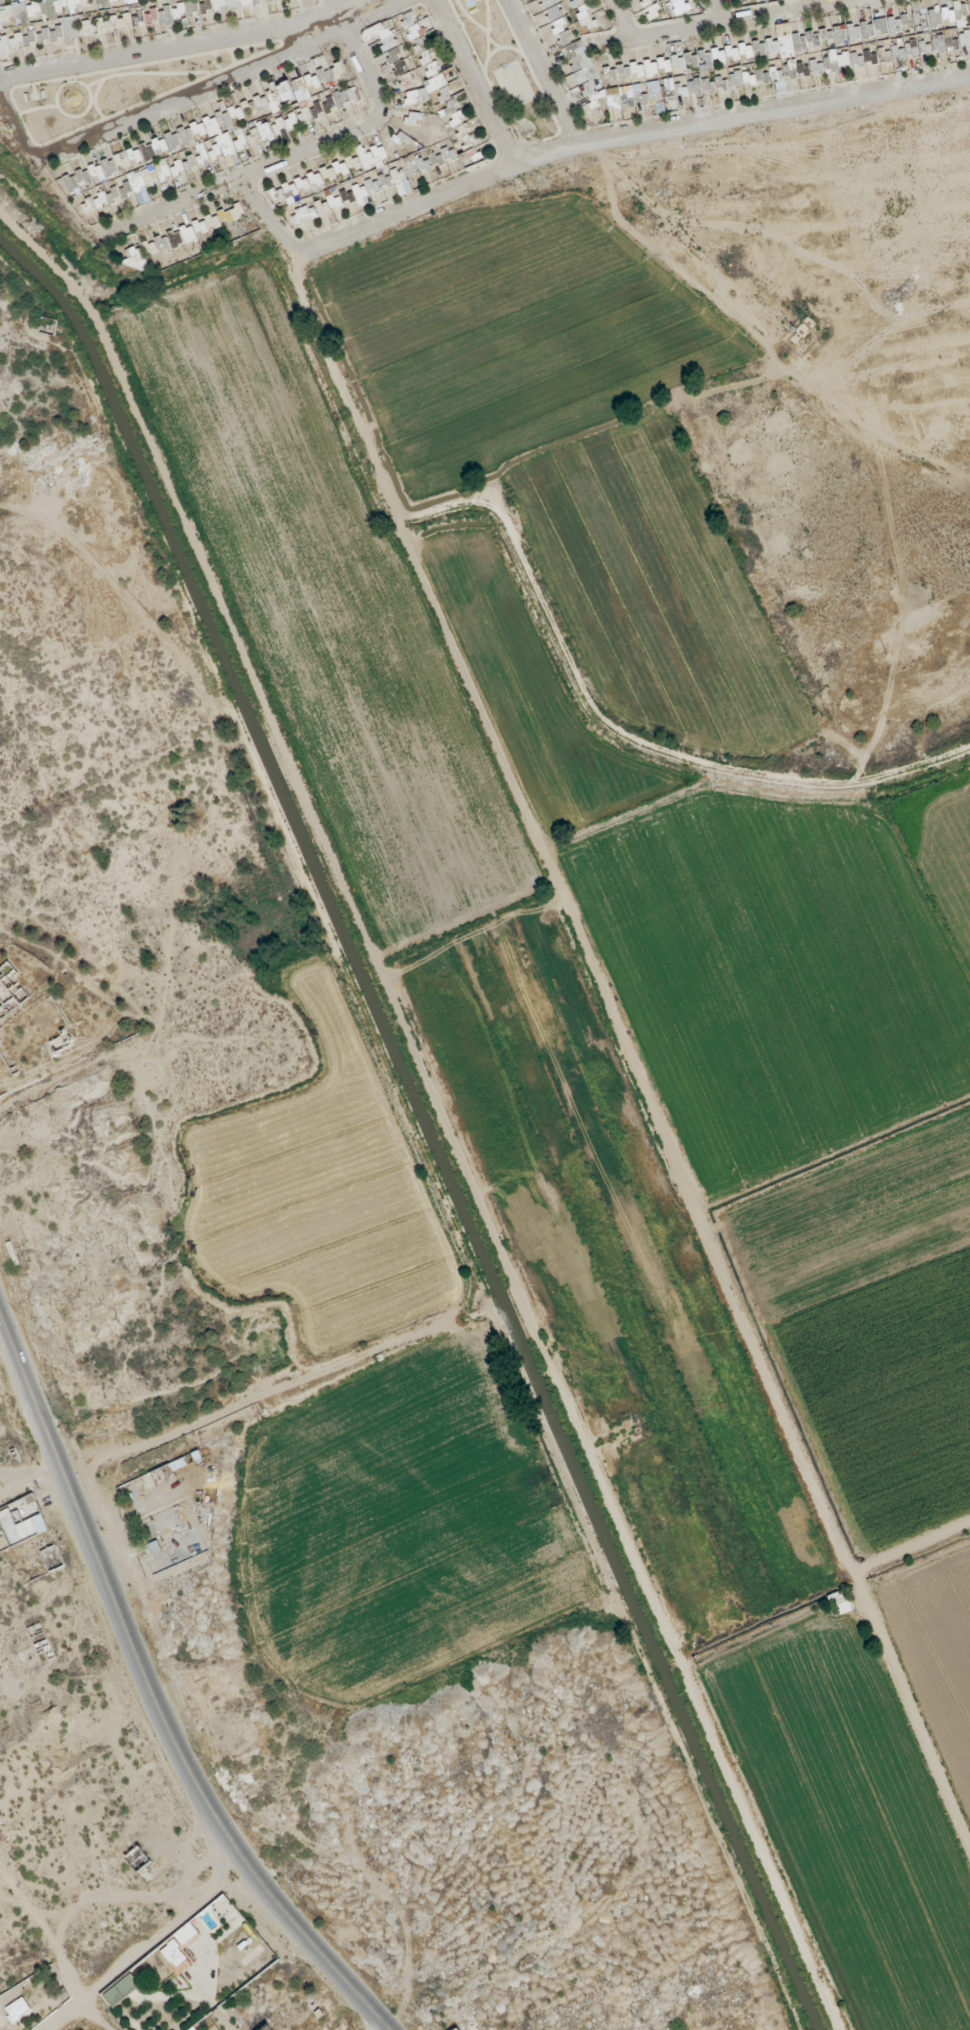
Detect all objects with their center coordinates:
road: (815, 4)
building: (921, 18)
road: (749, 20)
building: (786, 49)
road: (625, 141)
road: (910, 1549)

